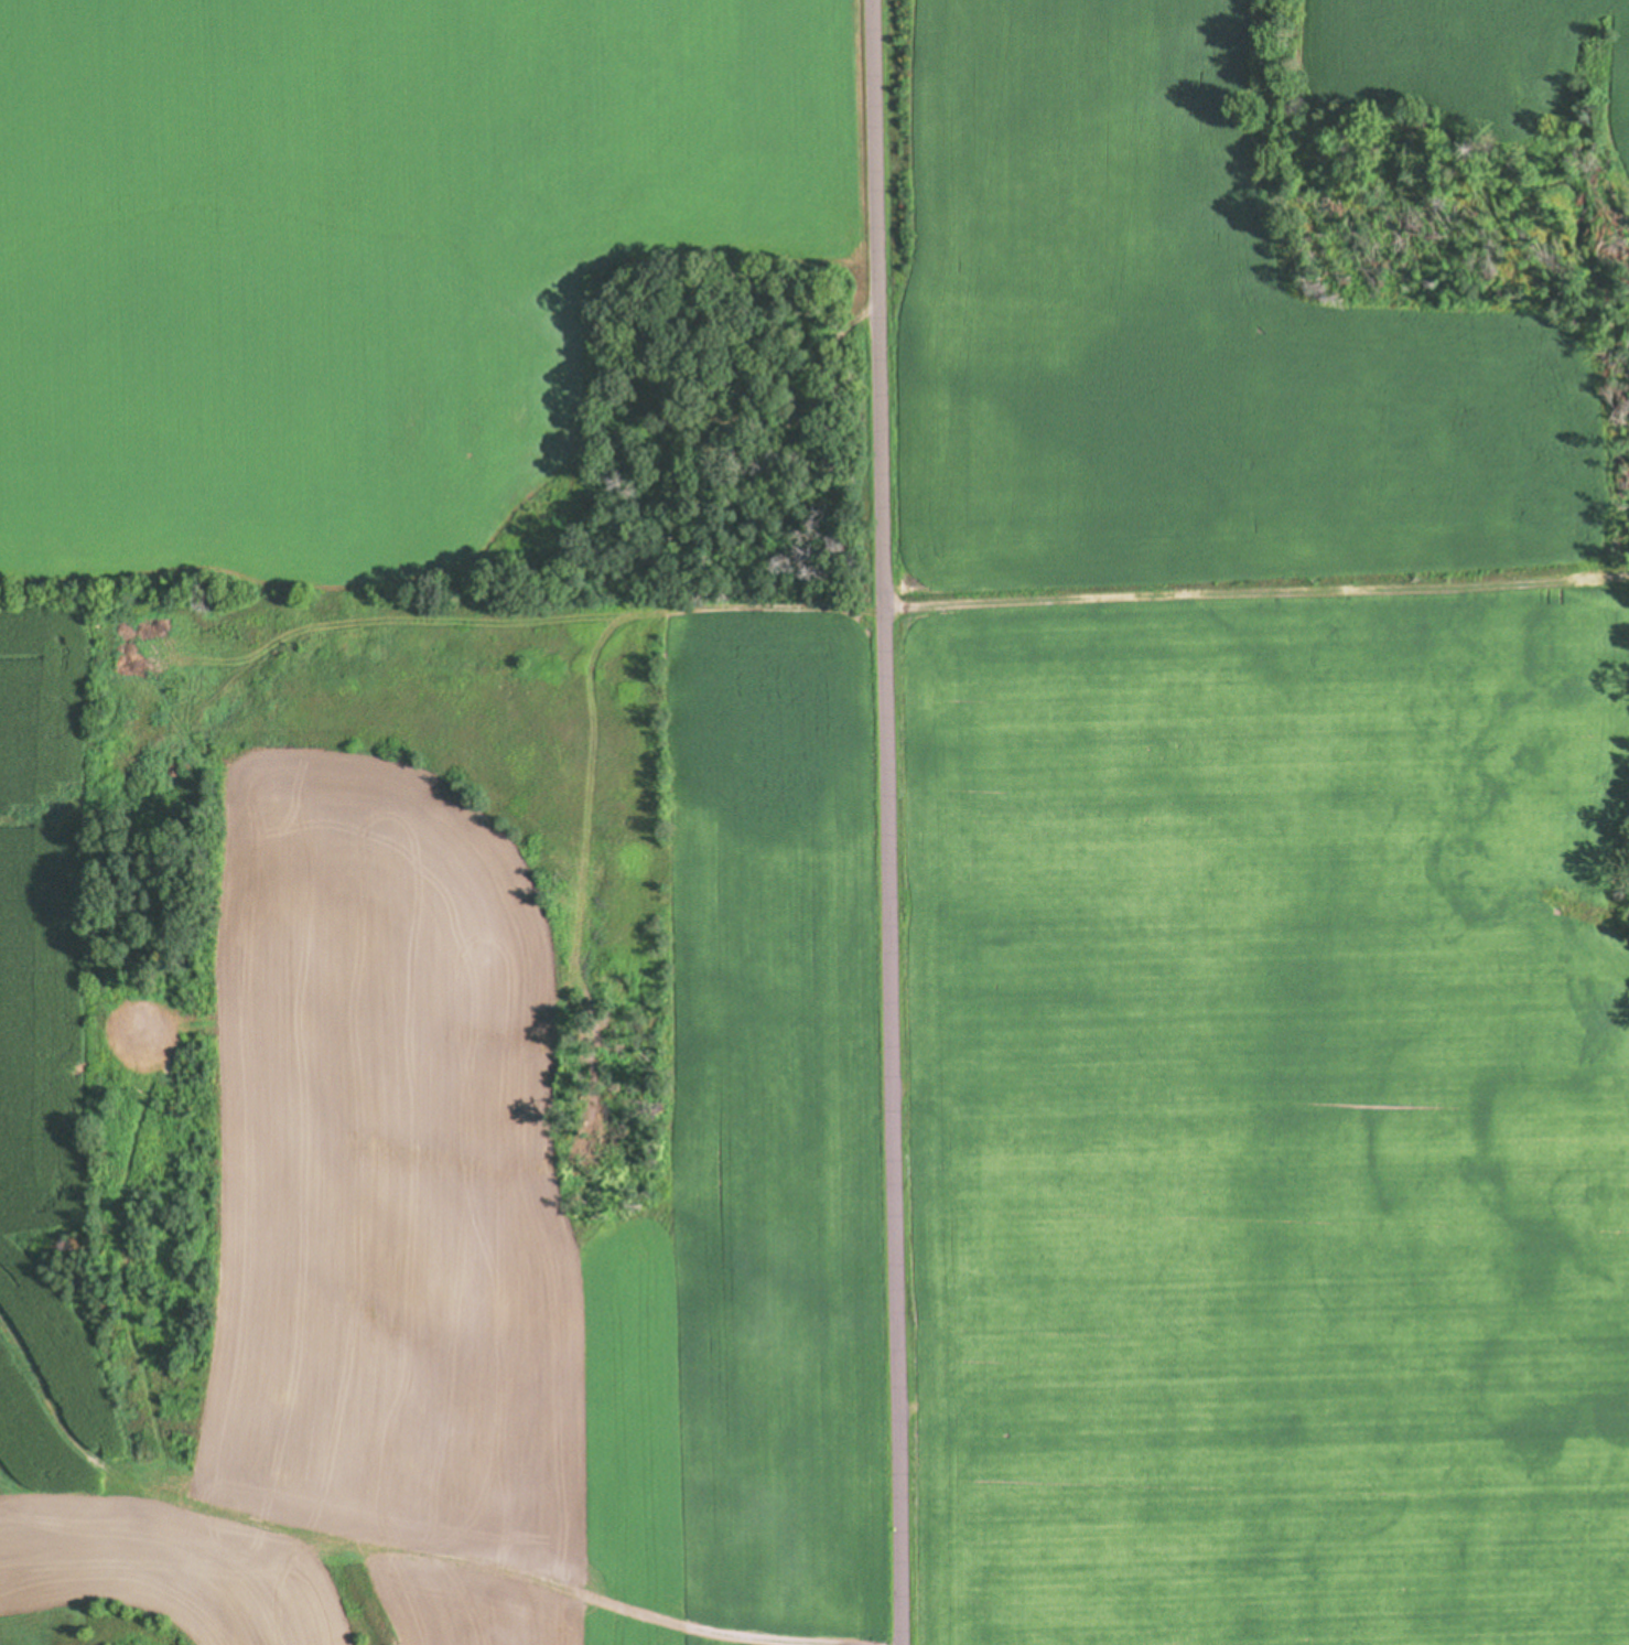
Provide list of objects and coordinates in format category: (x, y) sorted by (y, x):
road: (886, 821)
crop: (416, 856)
crop: (1244, 865)

